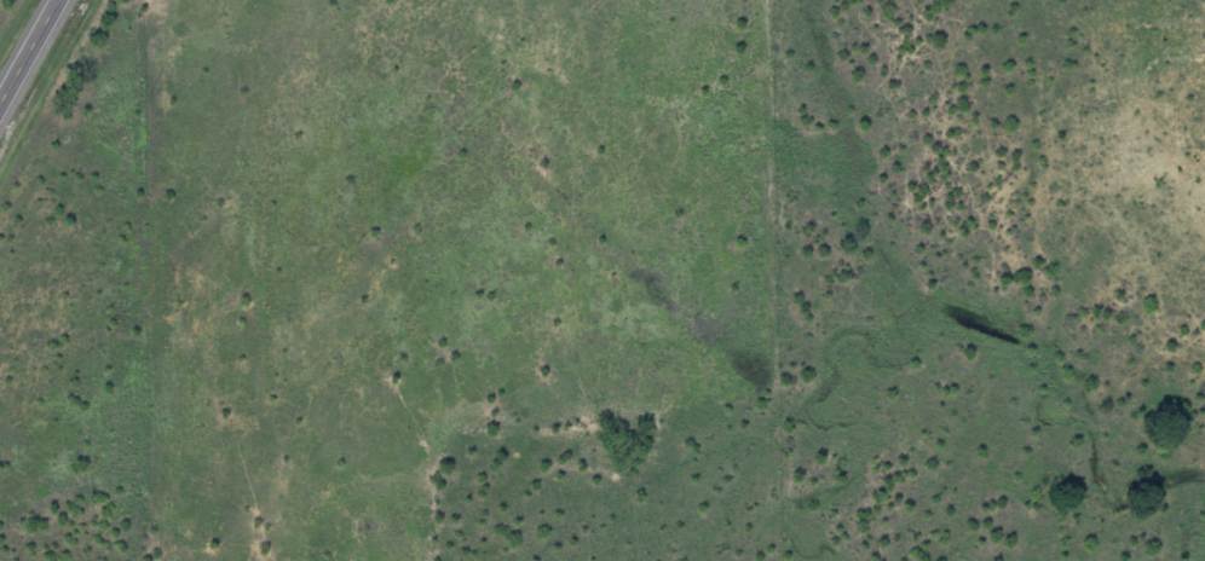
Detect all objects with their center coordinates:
road: (28, 51)

